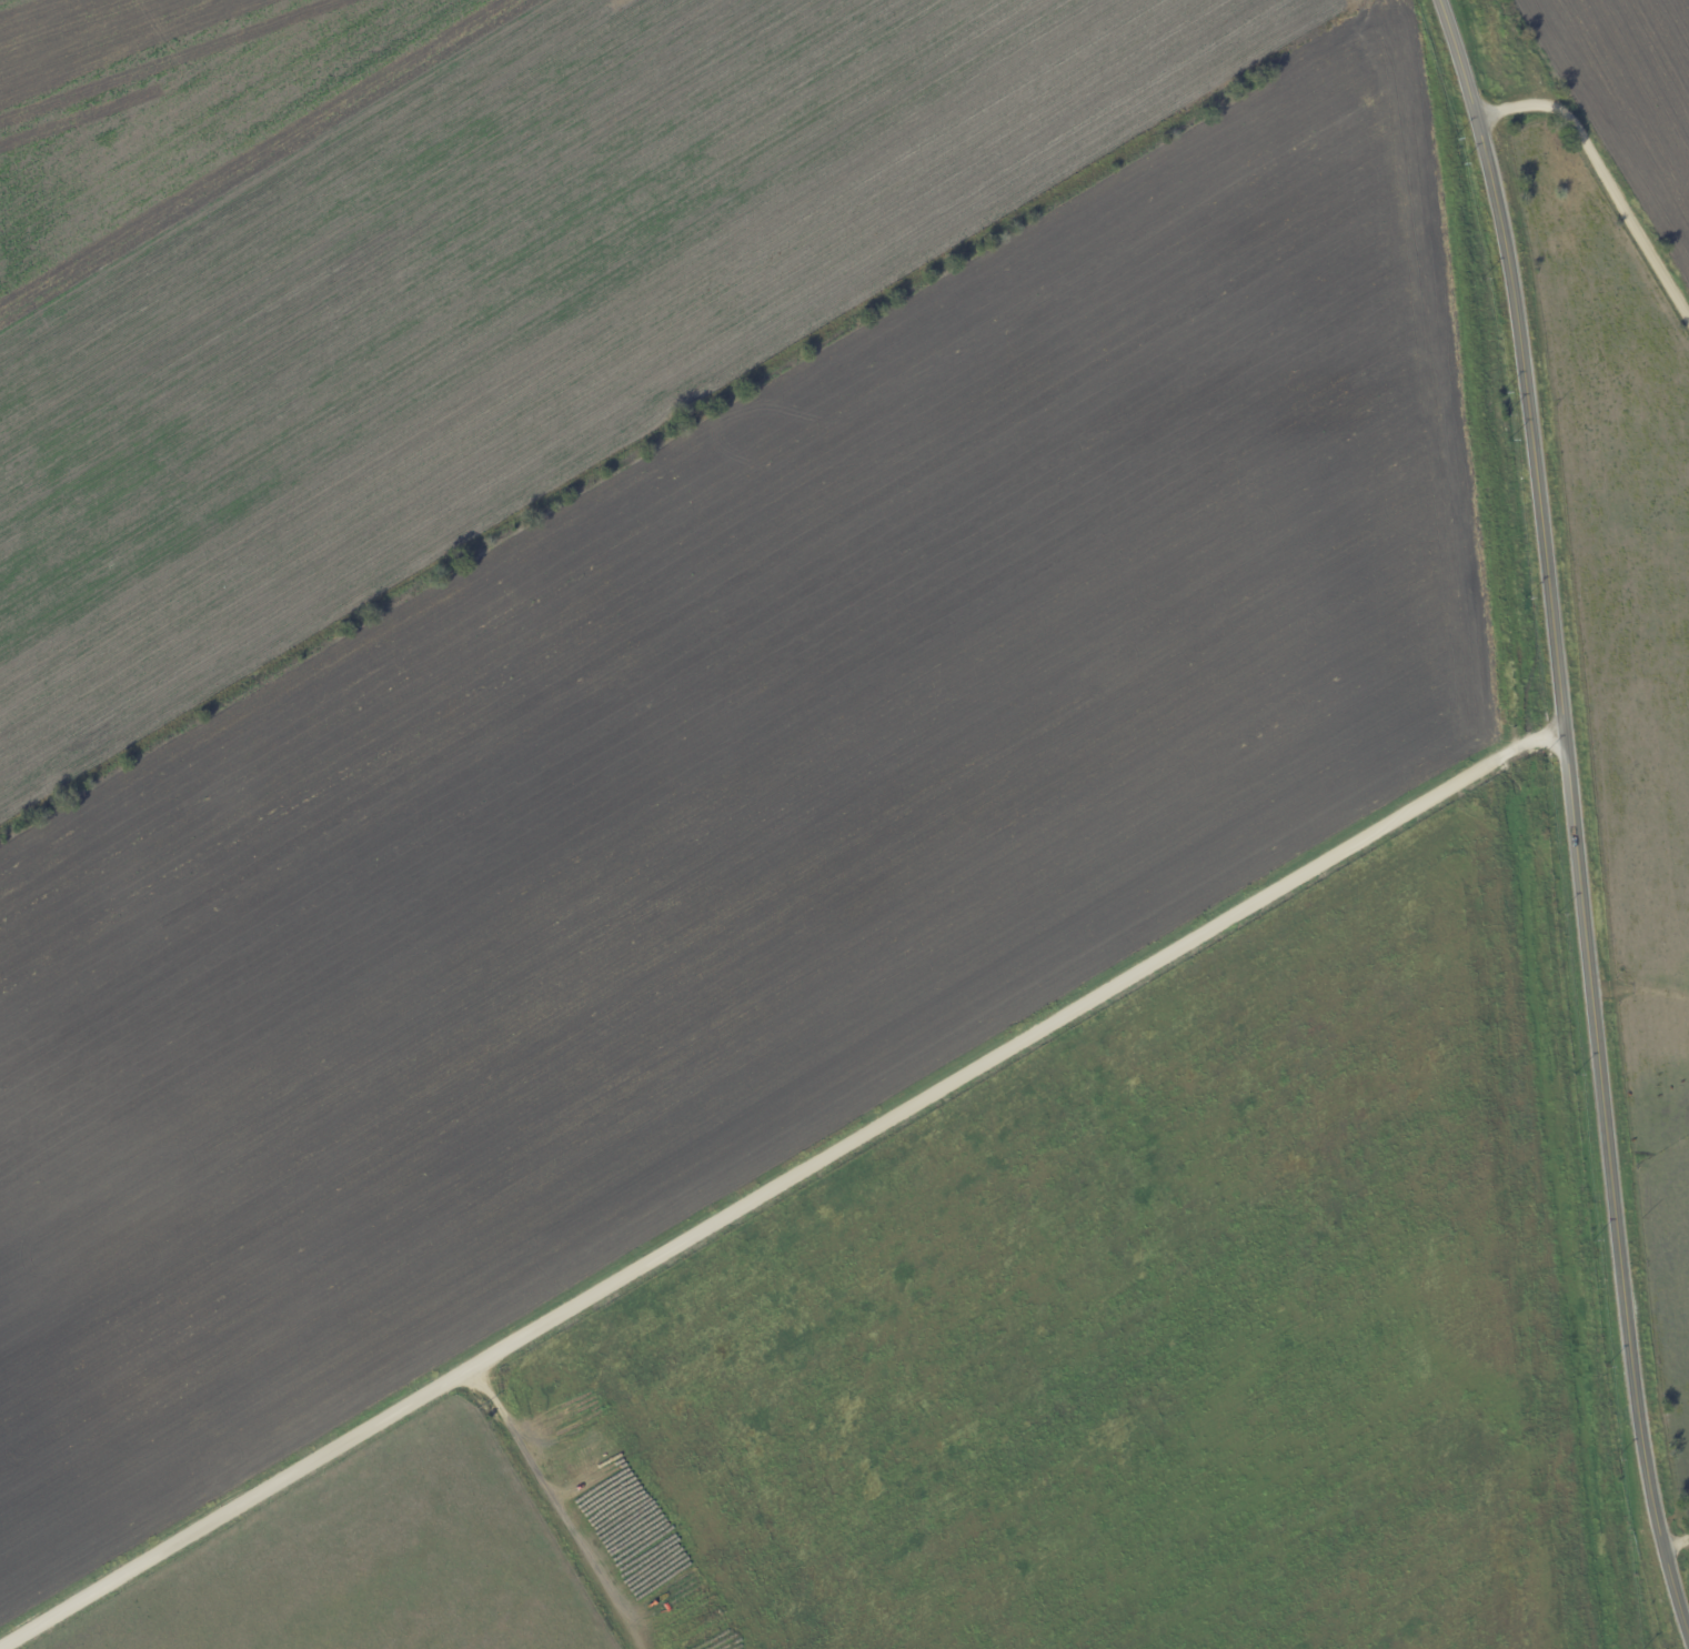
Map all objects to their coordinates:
road: (1605, 175)
road: (1574, 814)
road: (780, 1185)
road: (1676, 1545)

